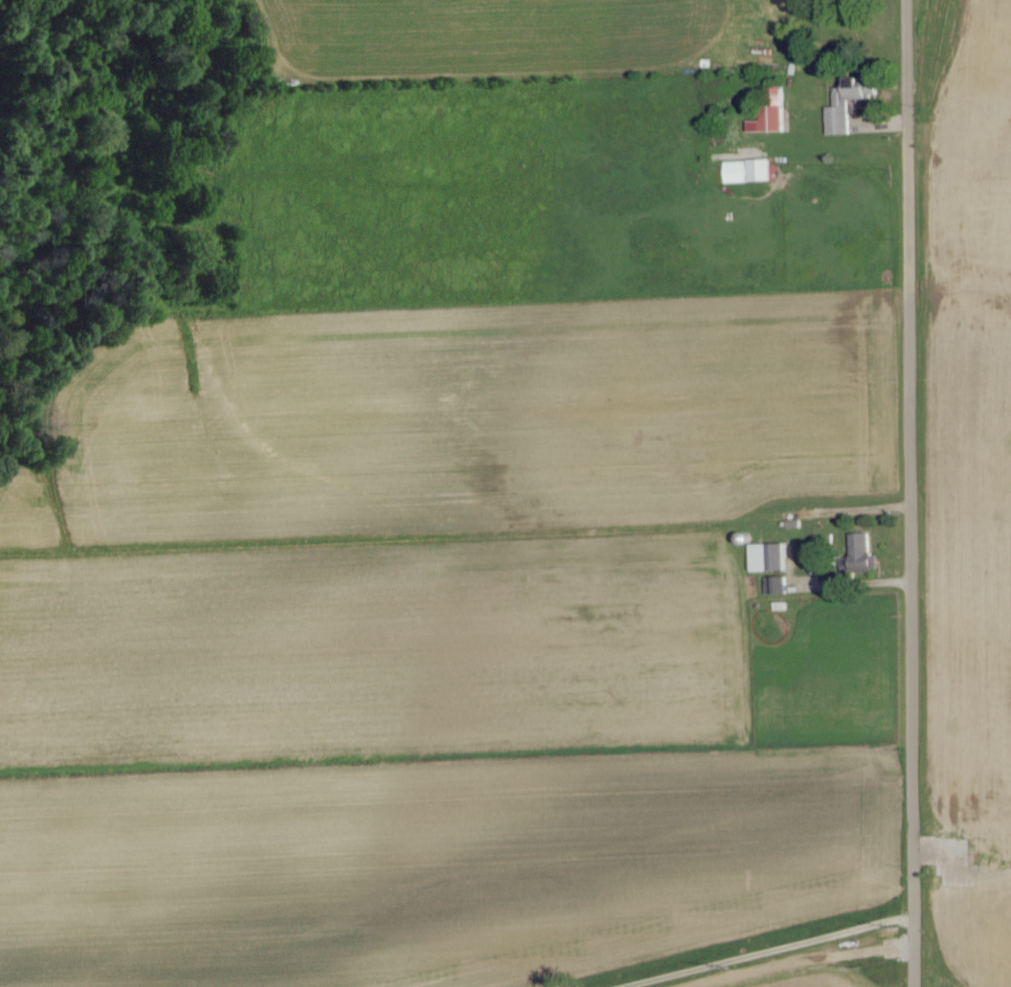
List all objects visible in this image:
building: (851, 103)
road: (908, 110)
building: (773, 112)
building: (752, 172)
building: (864, 553)
building: (770, 557)
building: (777, 585)
road: (912, 604)
road: (765, 952)

